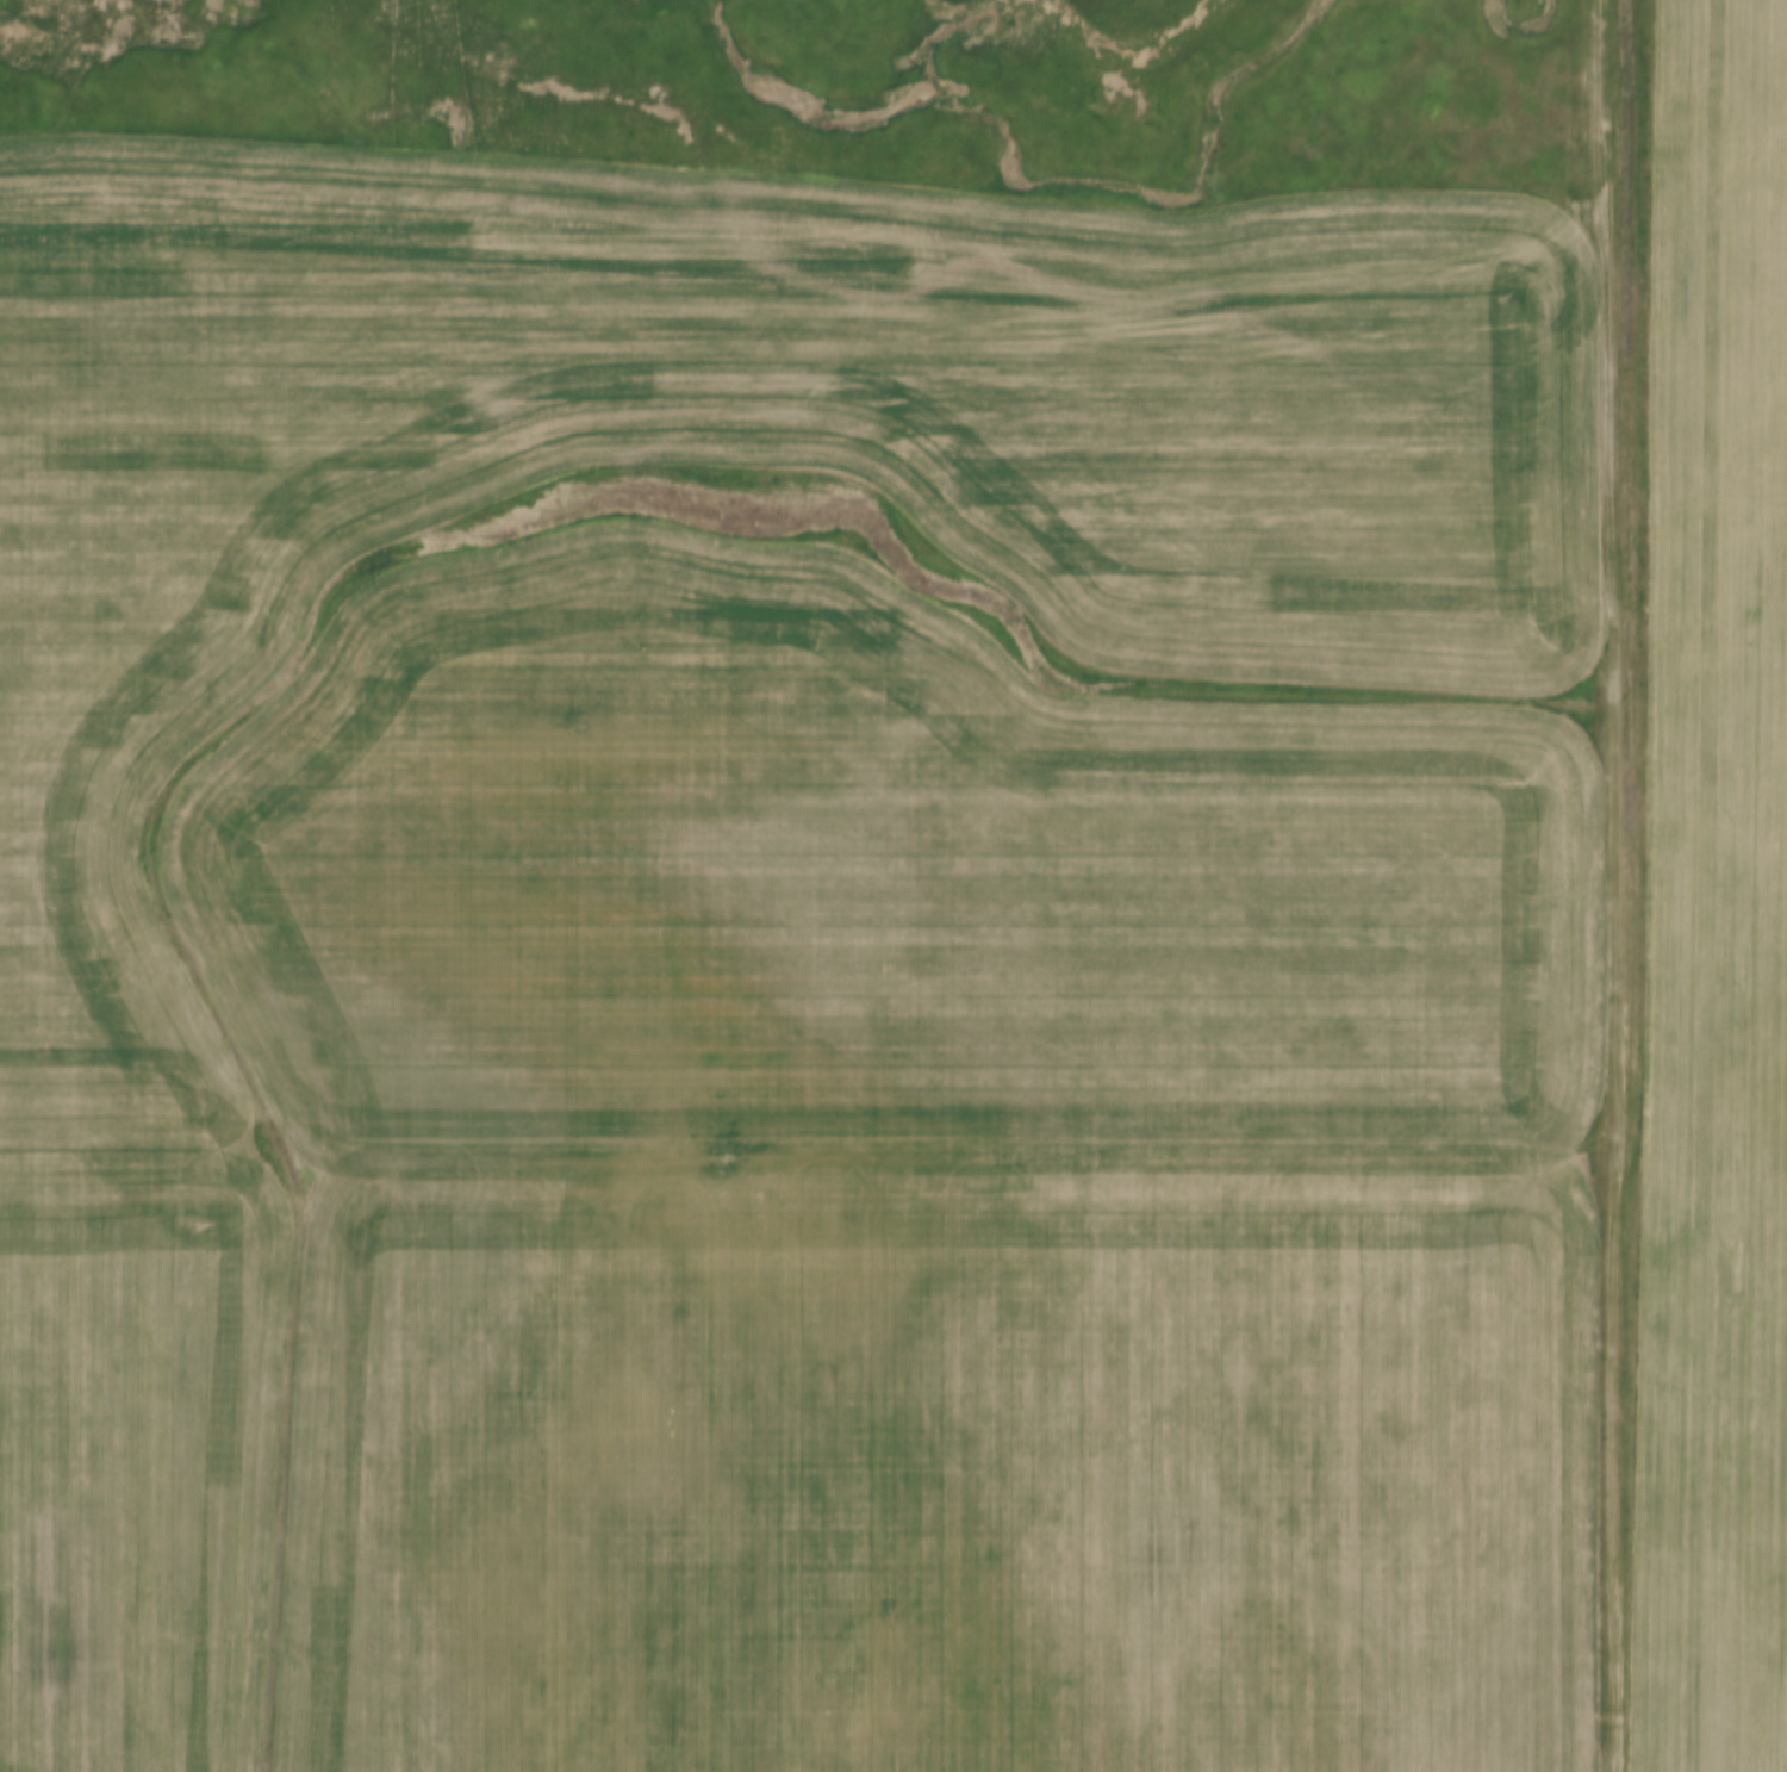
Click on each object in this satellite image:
road: (1618, 885)

